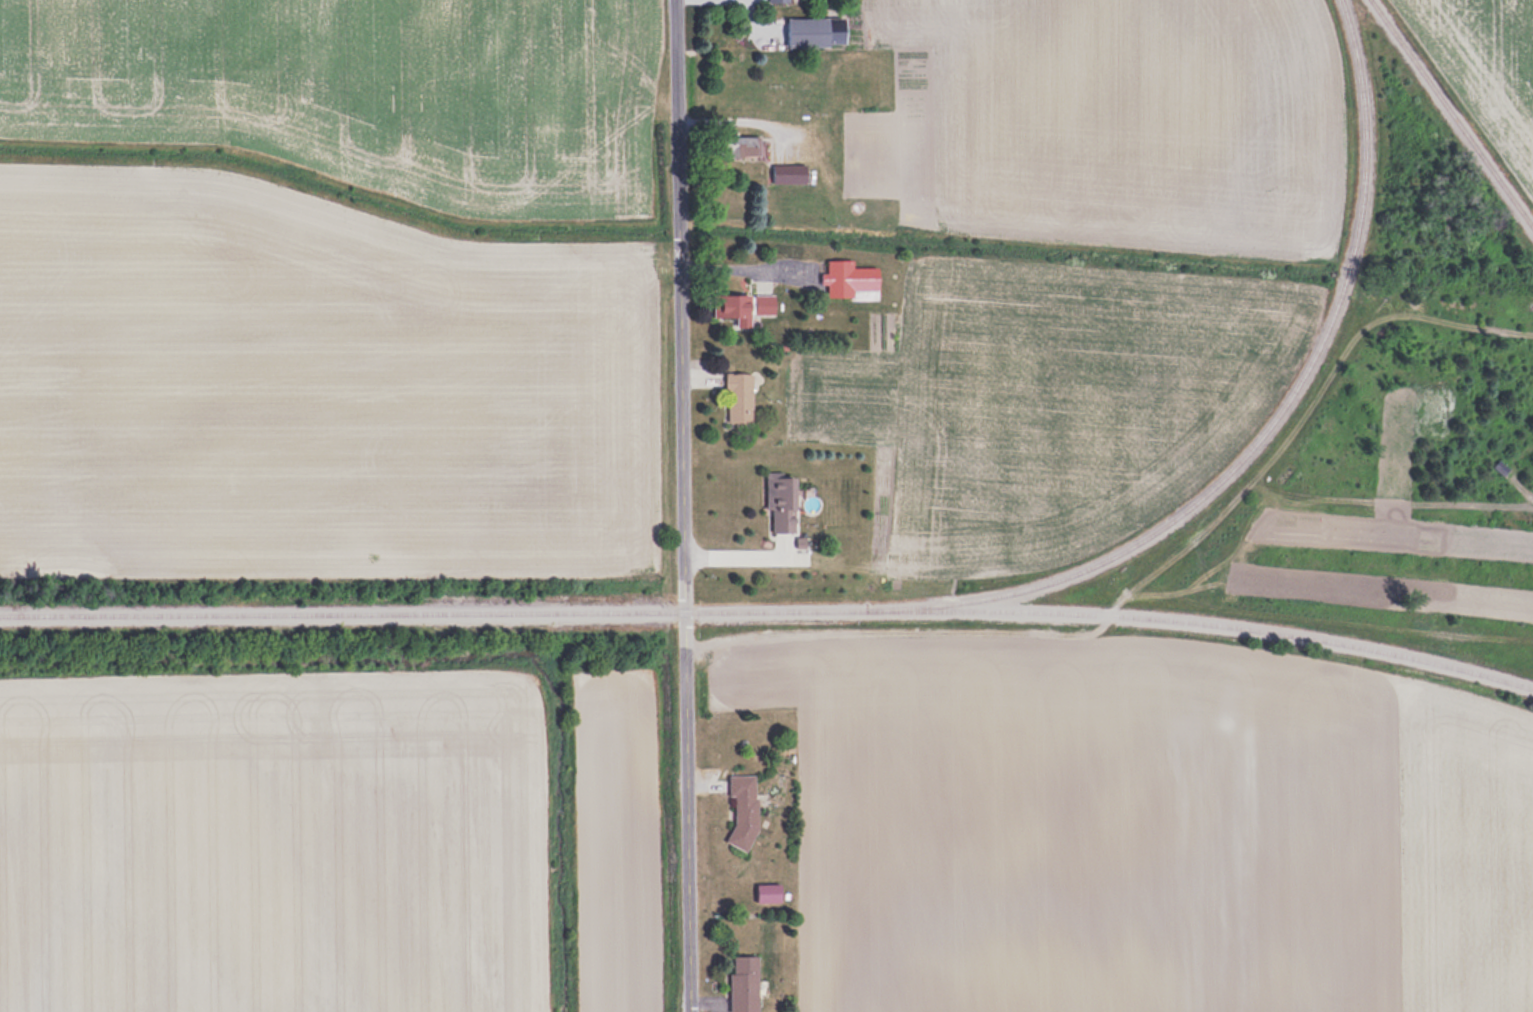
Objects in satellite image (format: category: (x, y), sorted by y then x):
building: (777, 1)
building: (815, 32)
railway: (1450, 115)
building: (739, 146)
building: (789, 174)
building: (849, 280)
building: (764, 305)
building: (733, 309)
building: (738, 397)
building: (780, 501)
road: (684, 506)
railway: (888, 611)
railway: (1216, 627)
building: (743, 810)
building: (768, 894)
building: (744, 983)

